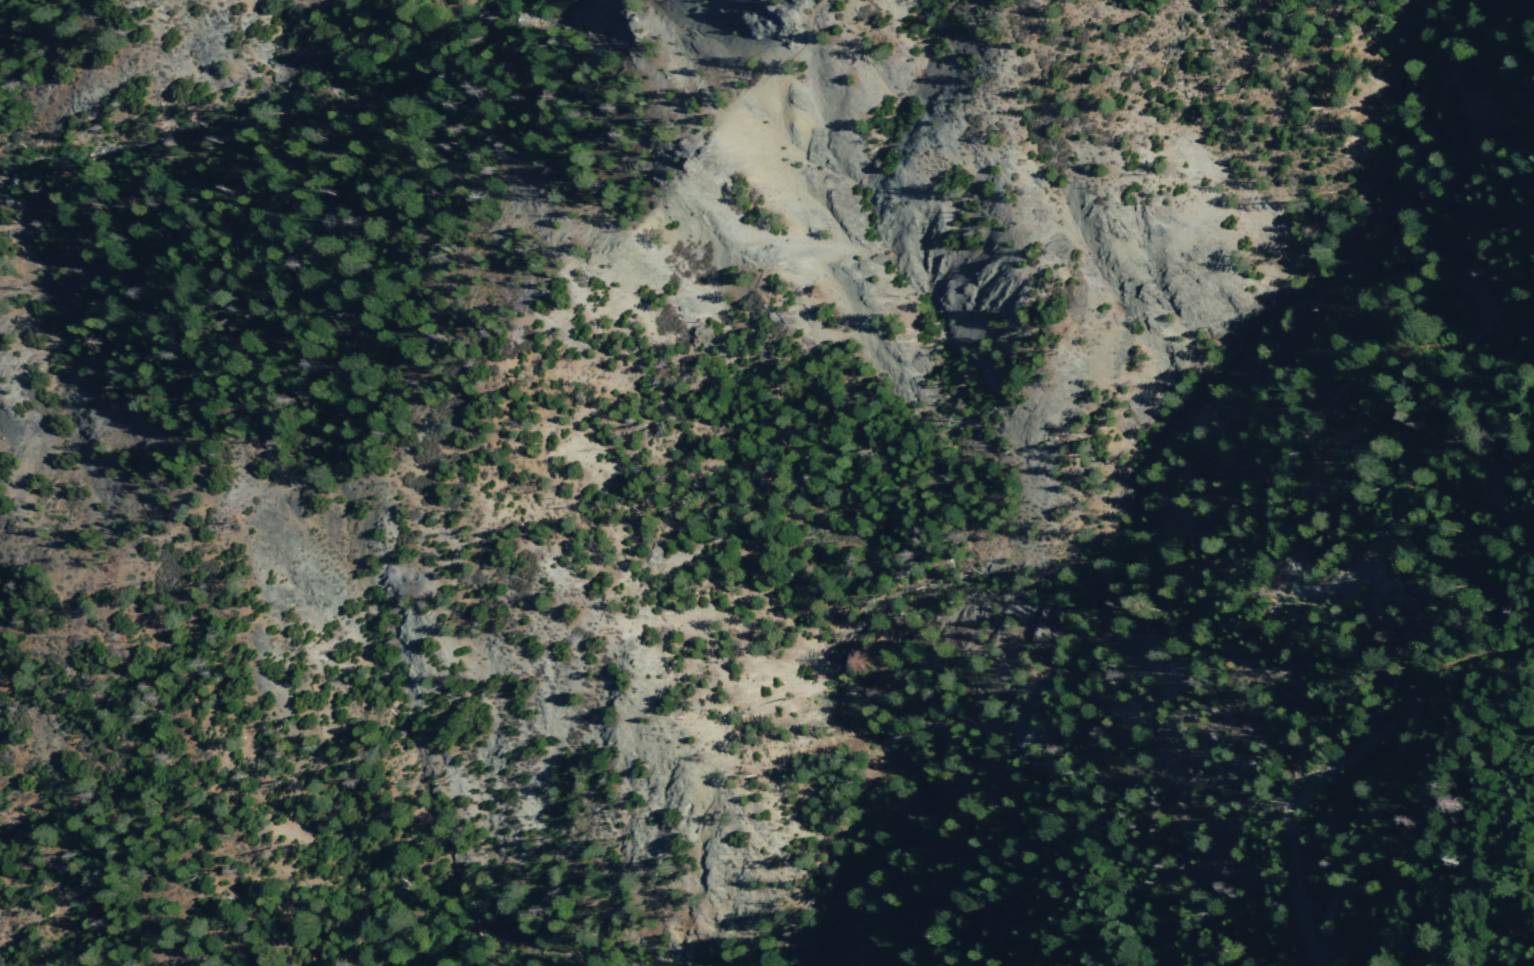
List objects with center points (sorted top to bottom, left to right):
road: (1452, 52)
road: (1386, 537)

